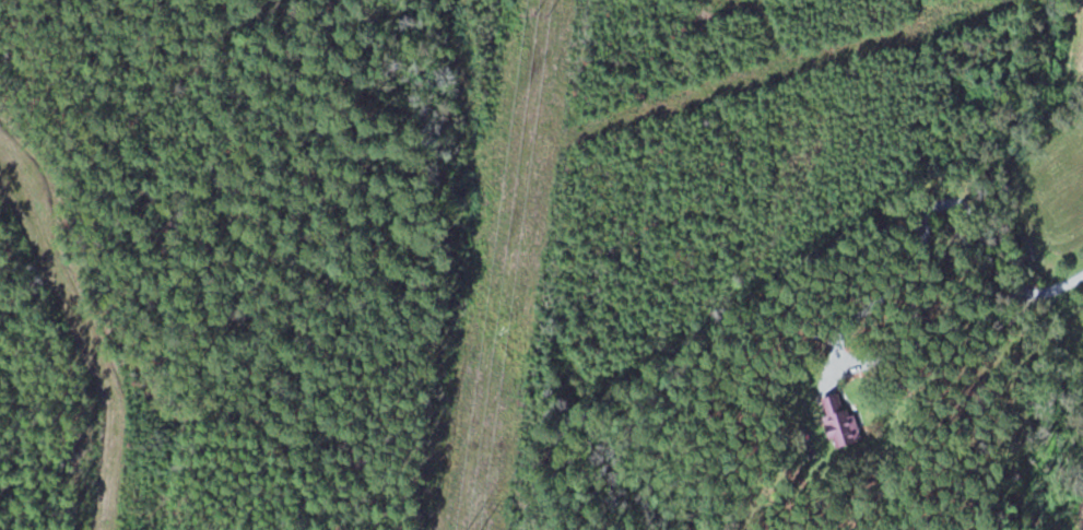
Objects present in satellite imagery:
power tower: (543, 19)
building: (841, 420)

